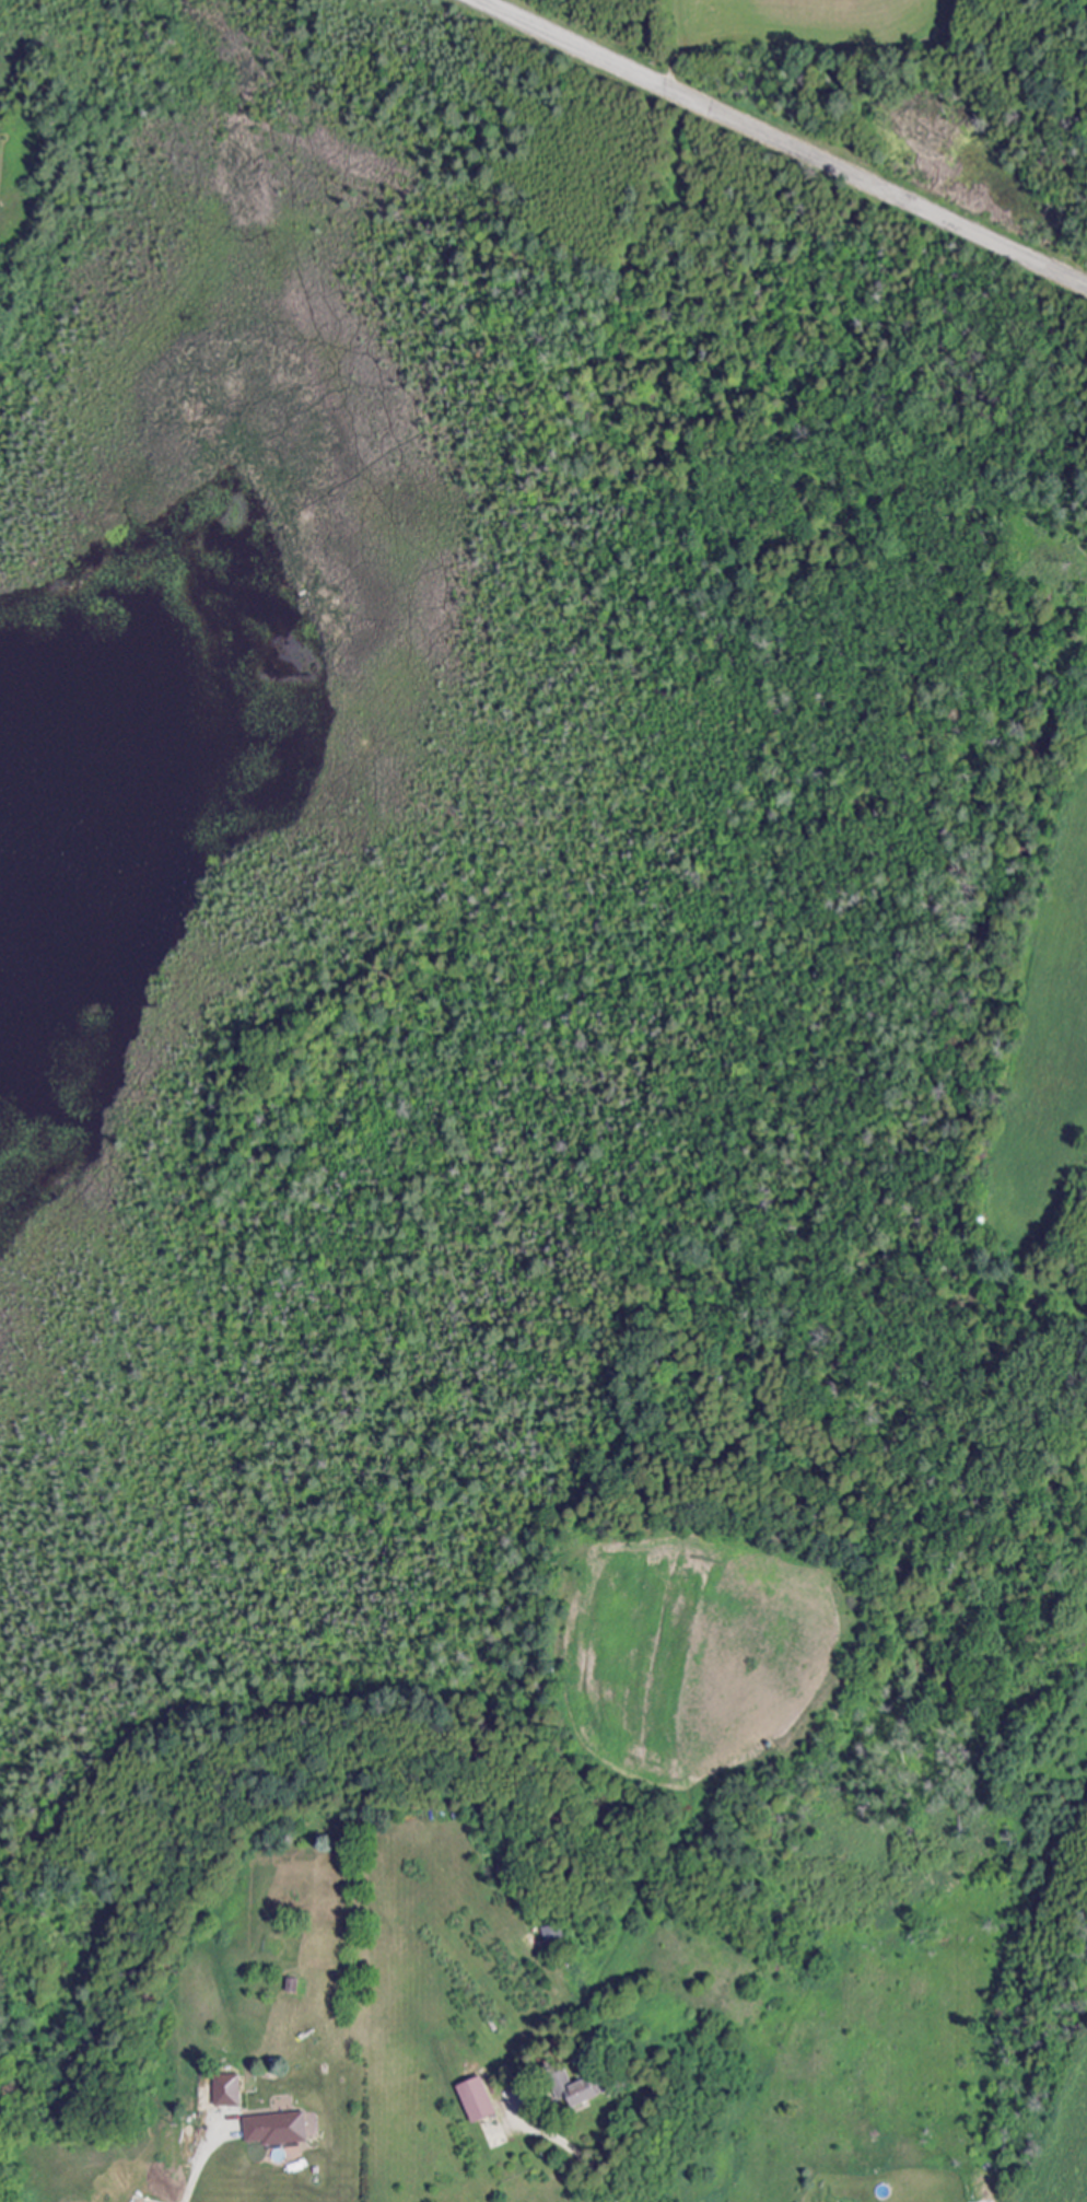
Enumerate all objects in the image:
road: (786, 140)
building: (571, 2087)
building: (224, 2089)
building: (472, 2099)
building: (272, 2128)
road: (570, 2142)
road: (198, 2168)

